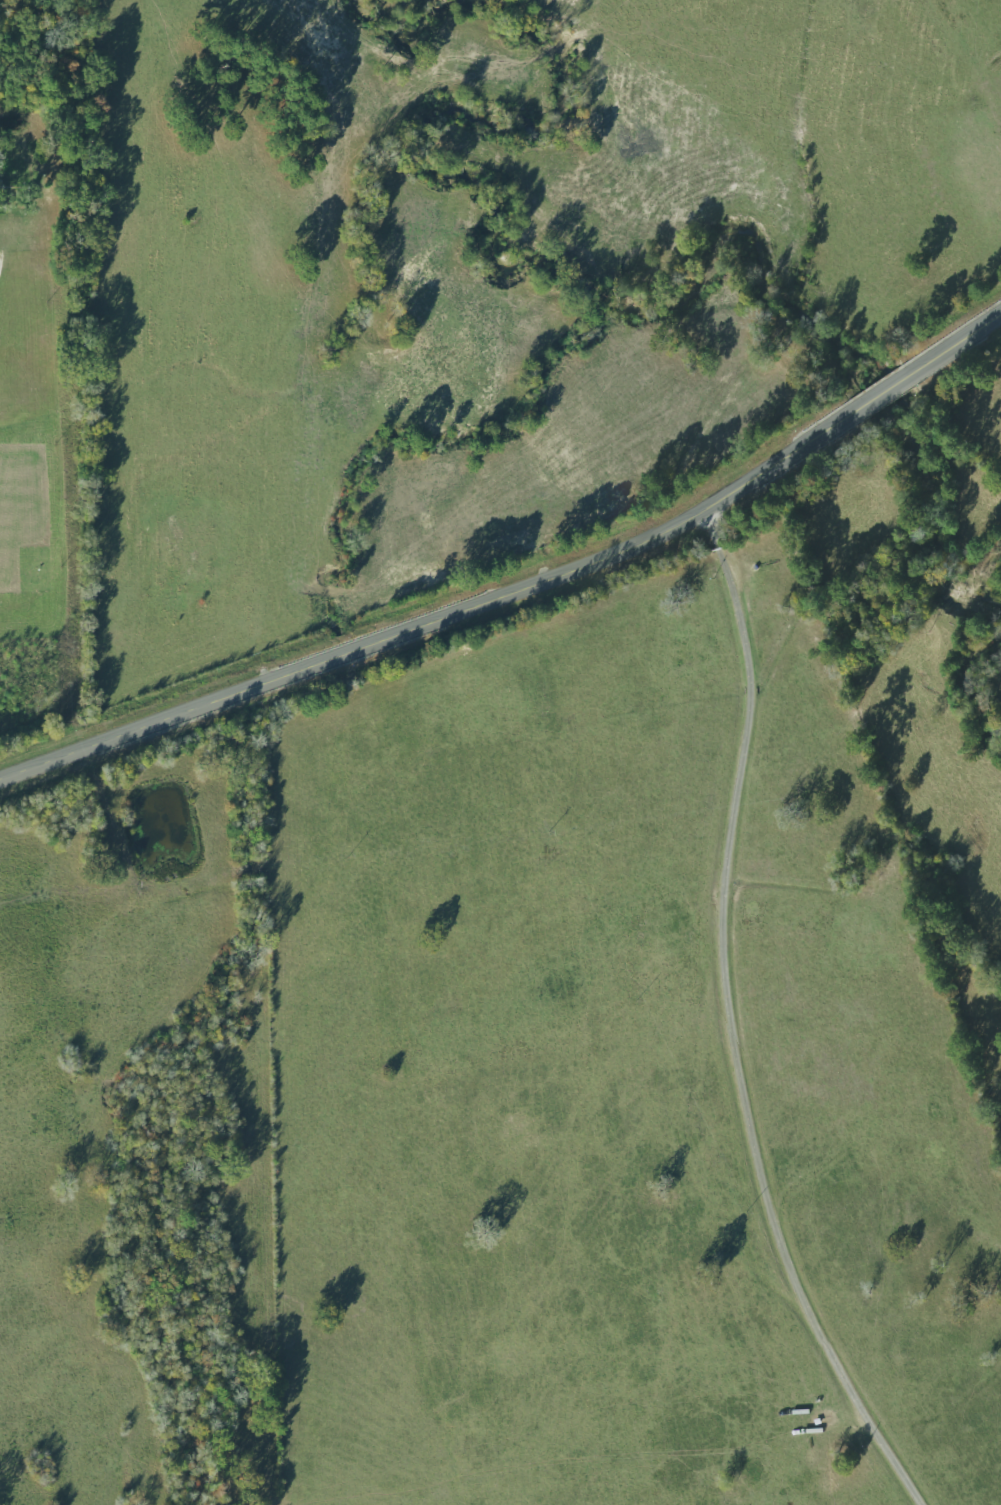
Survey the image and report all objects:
road: (956, 342)
road: (882, 391)
road: (438, 618)
road: (728, 1023)

